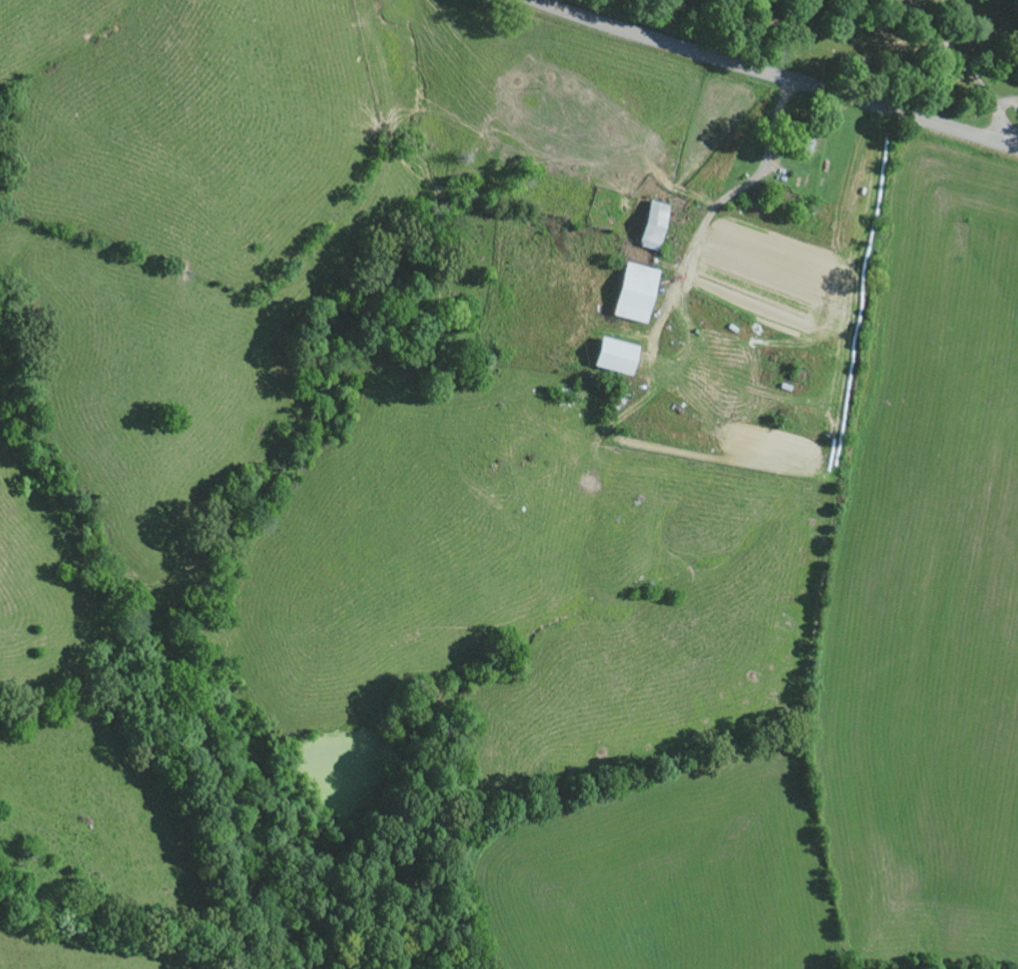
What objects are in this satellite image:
park: (874, 51)
road: (970, 69)
road: (773, 78)
building: (653, 228)
building: (635, 296)
building: (615, 359)

